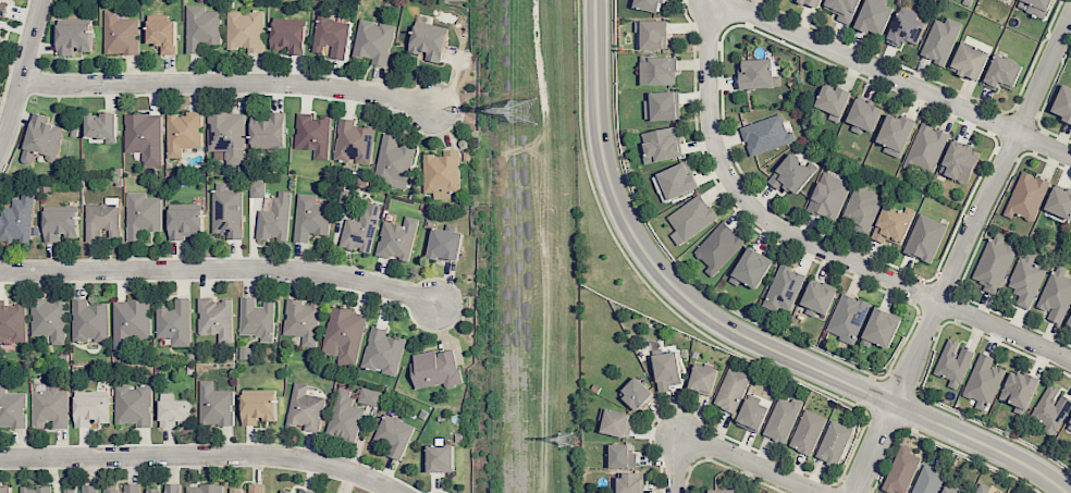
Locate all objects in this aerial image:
building: (454, 0)
building: (1013, 0)
building: (812, 2)
building: (648, 4)
building: (1035, 7)
building: (3, 8)
building: (842, 9)
building: (874, 16)
building: (201, 27)
building: (0, 29)
building: (904, 29)
building: (245, 30)
building: (120, 34)
building: (652, 34)
building: (162, 35)
building: (73, 36)
building: (330, 36)
building: (288, 37)
building: (428, 38)
building: (940, 40)
building: (373, 41)
building: (969, 60)
building: (657, 71)
road: (23, 73)
building: (756, 73)
building: (1001, 73)
road: (896, 78)
road: (226, 82)
building: (833, 101)
building: (1062, 103)
building: (662, 106)
power tower: (526, 108)
building: (863, 115)
building: (101, 125)
building: (268, 130)
building: (183, 132)
building: (312, 134)
building: (765, 134)
building: (895, 134)
building: (226, 135)
building: (144, 136)
building: (41, 139)
building: (354, 141)
building: (661, 145)
building: (925, 148)
building: (959, 161)
building: (393, 162)
building: (441, 172)
building: (791, 173)
building: (677, 180)
building: (257, 189)
building: (828, 195)
building: (1026, 196)
building: (1059, 202)
building: (861, 207)
building: (226, 210)
building: (141, 214)
building: (310, 217)
building: (274, 219)
building: (690, 219)
building: (17, 220)
building: (102, 220)
building: (184, 220)
building: (60, 224)
building: (890, 225)
building: (360, 229)
building: (924, 237)
building: (397, 238)
building: (1070, 241)
road: (809, 242)
building: (445, 244)
building: (717, 247)
road: (960, 250)
building: (994, 263)
road: (220, 268)
building: (750, 268)
building: (1026, 279)
building: (784, 288)
building: (1056, 294)
building: (817, 298)
building: (847, 317)
building: (214, 318)
building: (256, 318)
building: (48, 320)
building: (89, 321)
building: (301, 321)
building: (12, 322)
building: (174, 322)
building: (1069, 322)
building: (130, 323)
building: (882, 326)
road: (728, 330)
building: (343, 335)
building: (382, 352)
building: (953, 362)
building: (435, 368)
building: (666, 370)
building: (702, 379)
building: (983, 381)
building: (1019, 389)
building: (731, 390)
building: (636, 393)
building: (369, 396)
building: (49, 405)
building: (133, 405)
building: (214, 405)
building: (257, 406)
building: (90, 407)
building: (11, 408)
building: (305, 408)
building: (1050, 409)
building: (173, 411)
building: (751, 415)
building: (344, 416)
building: (781, 419)
building: (616, 422)
building: (1069, 423)
building: (807, 431)
building: (393, 435)
power tower: (564, 439)
building: (834, 442)
road: (201, 455)
building: (620, 456)
building: (440, 457)
road: (754, 463)
road: (675, 467)
building: (901, 470)
building: (927, 480)
building: (629, 482)
building: (121, 488)
building: (256, 488)
building: (83, 489)
building: (167, 489)
building: (204, 489)
building: (982, 489)
building: (5, 490)
building: (34, 490)
building: (234, 490)
building: (306, 491)
building: (721, 491)
building: (949, 491)
building: (285, 492)

